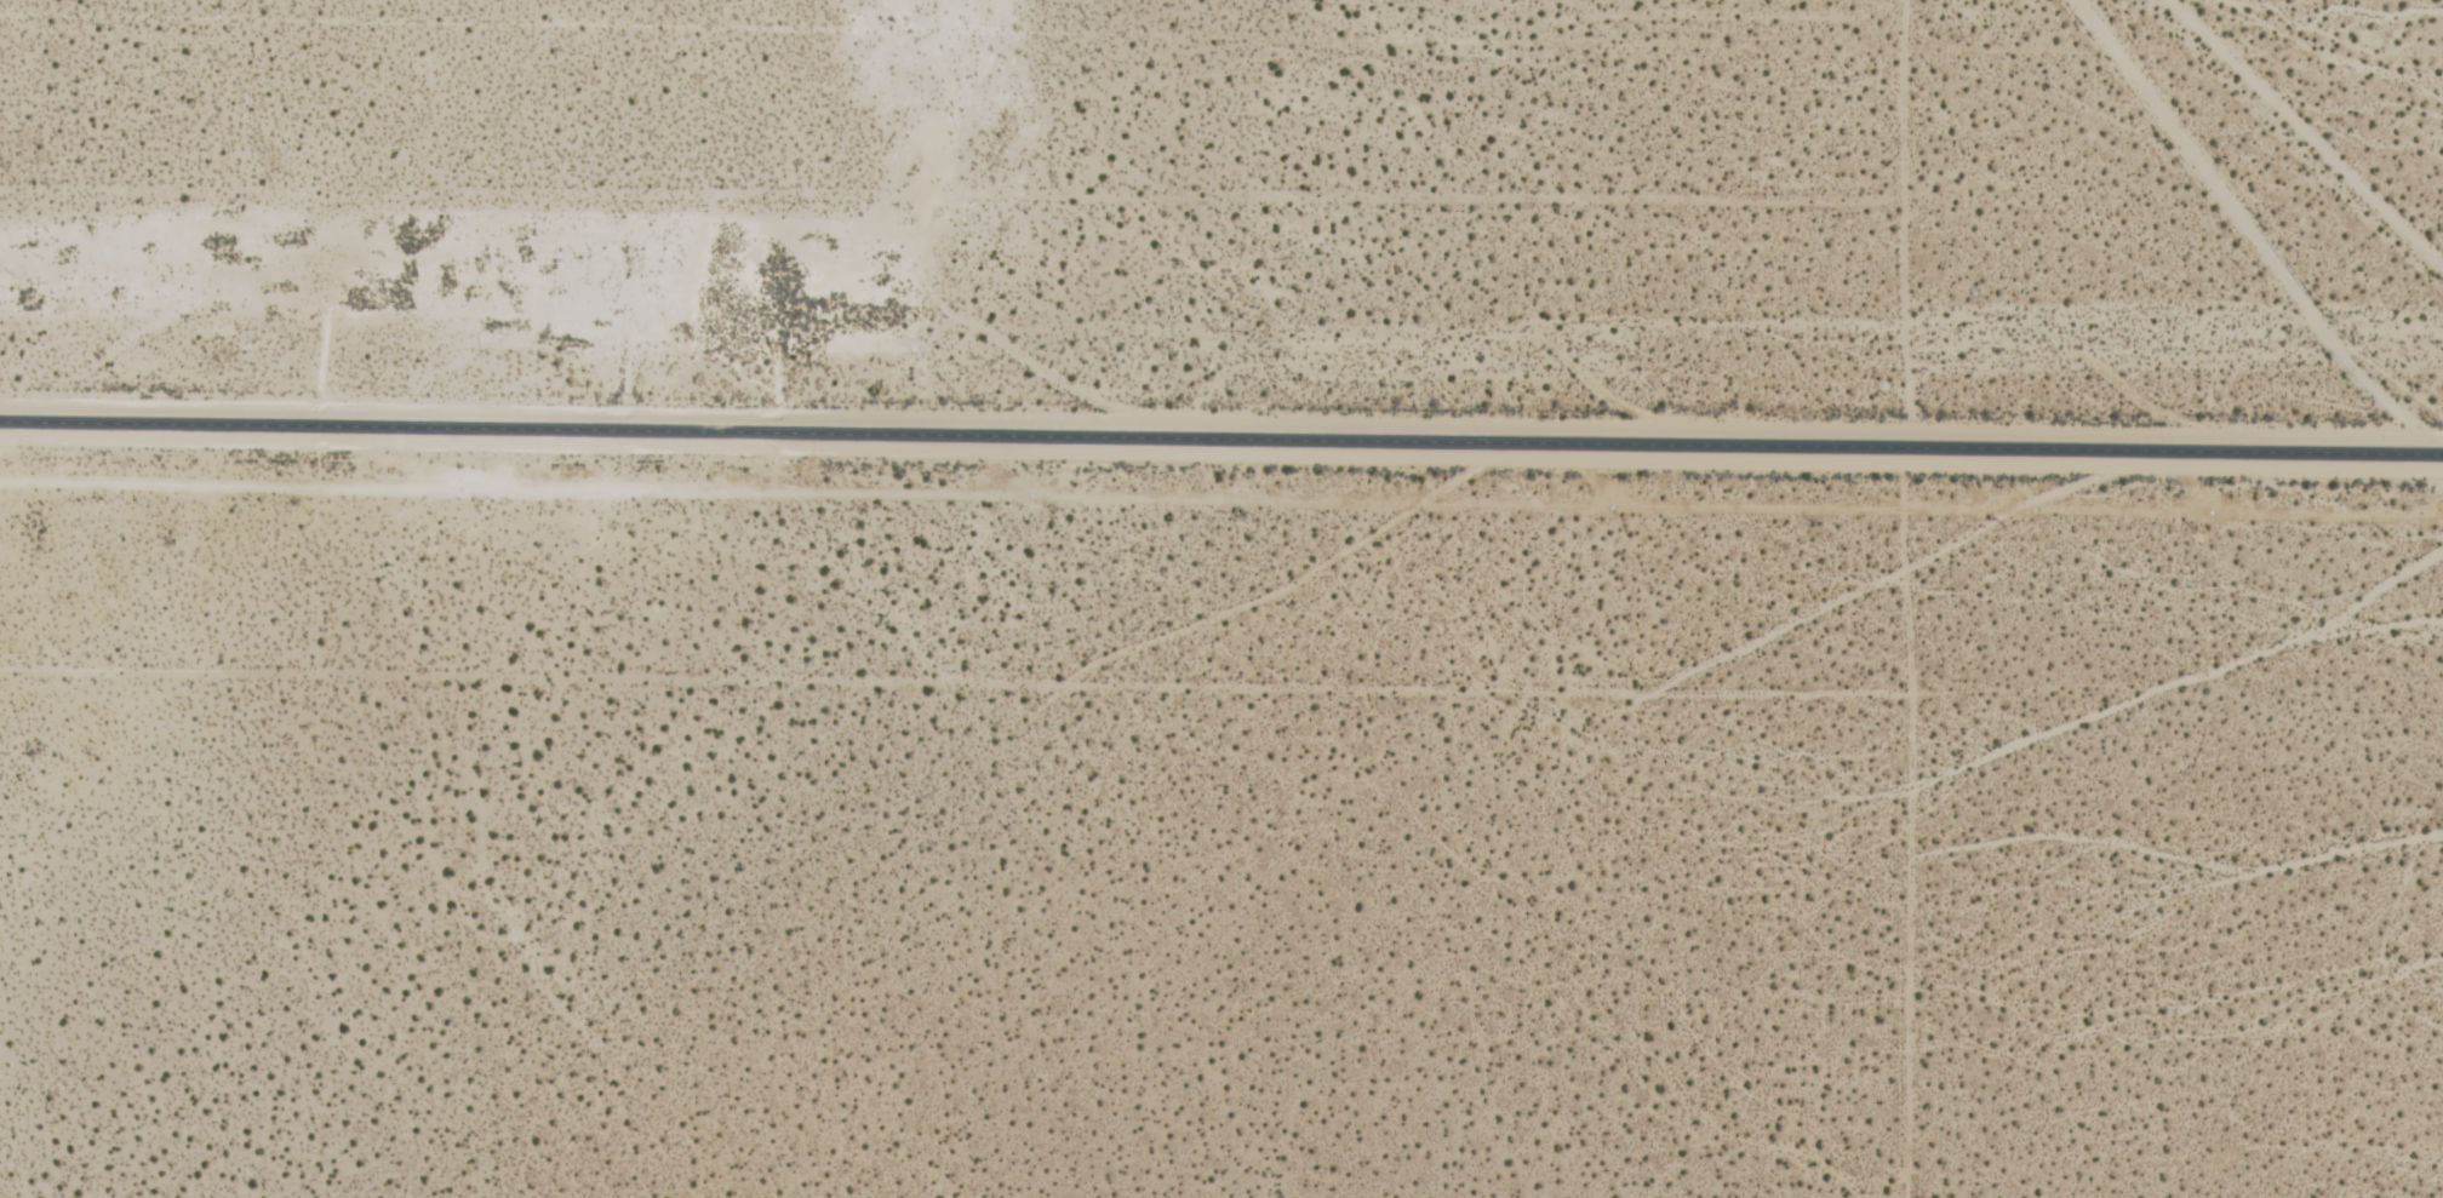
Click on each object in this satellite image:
road: (952, 438)
road: (2174, 452)
road: (1905, 598)

